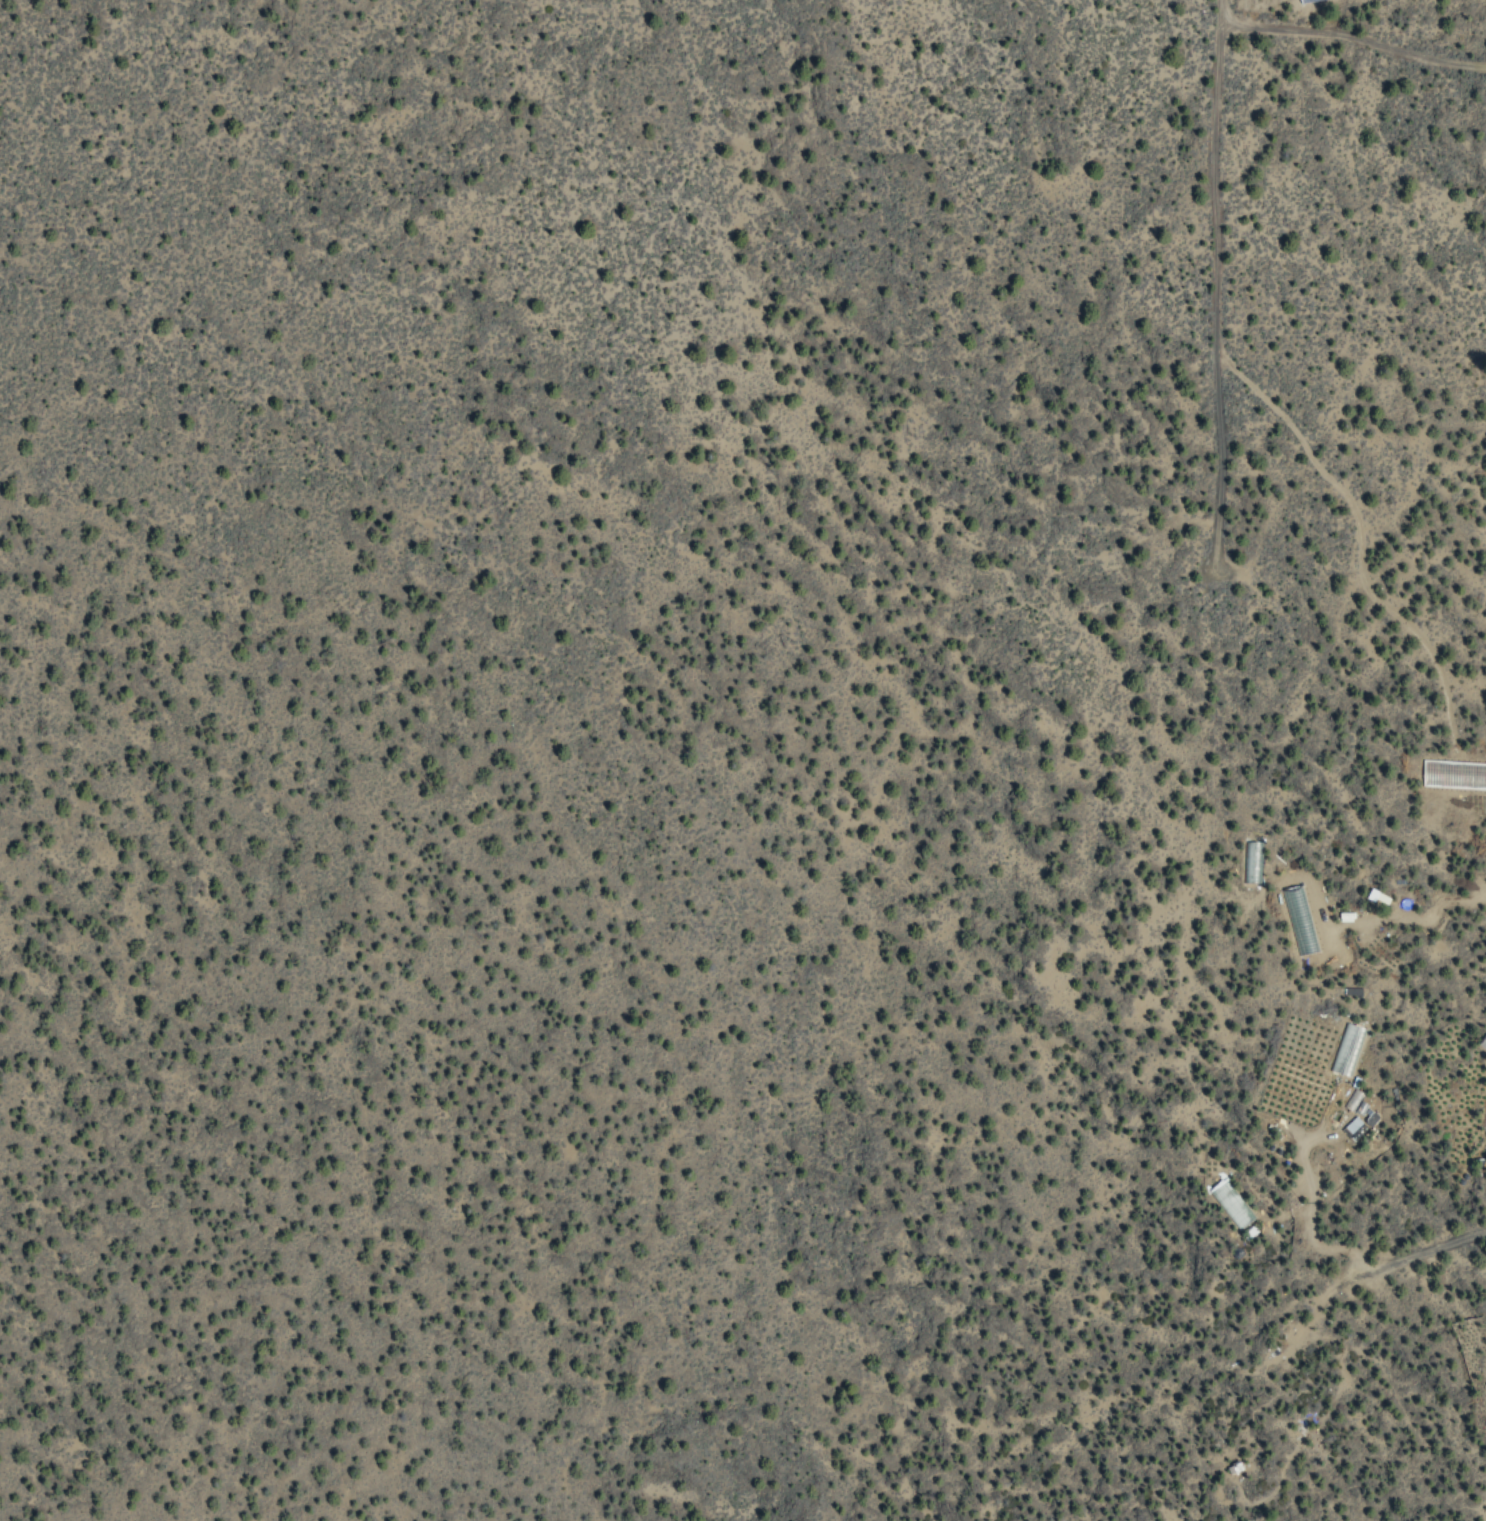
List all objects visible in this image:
road: (1348, 35)
road: (1211, 275)
building: (1347, 1050)
building: (1359, 1108)
building: (1354, 1128)
building: (1231, 1204)
road: (1455, 1236)

